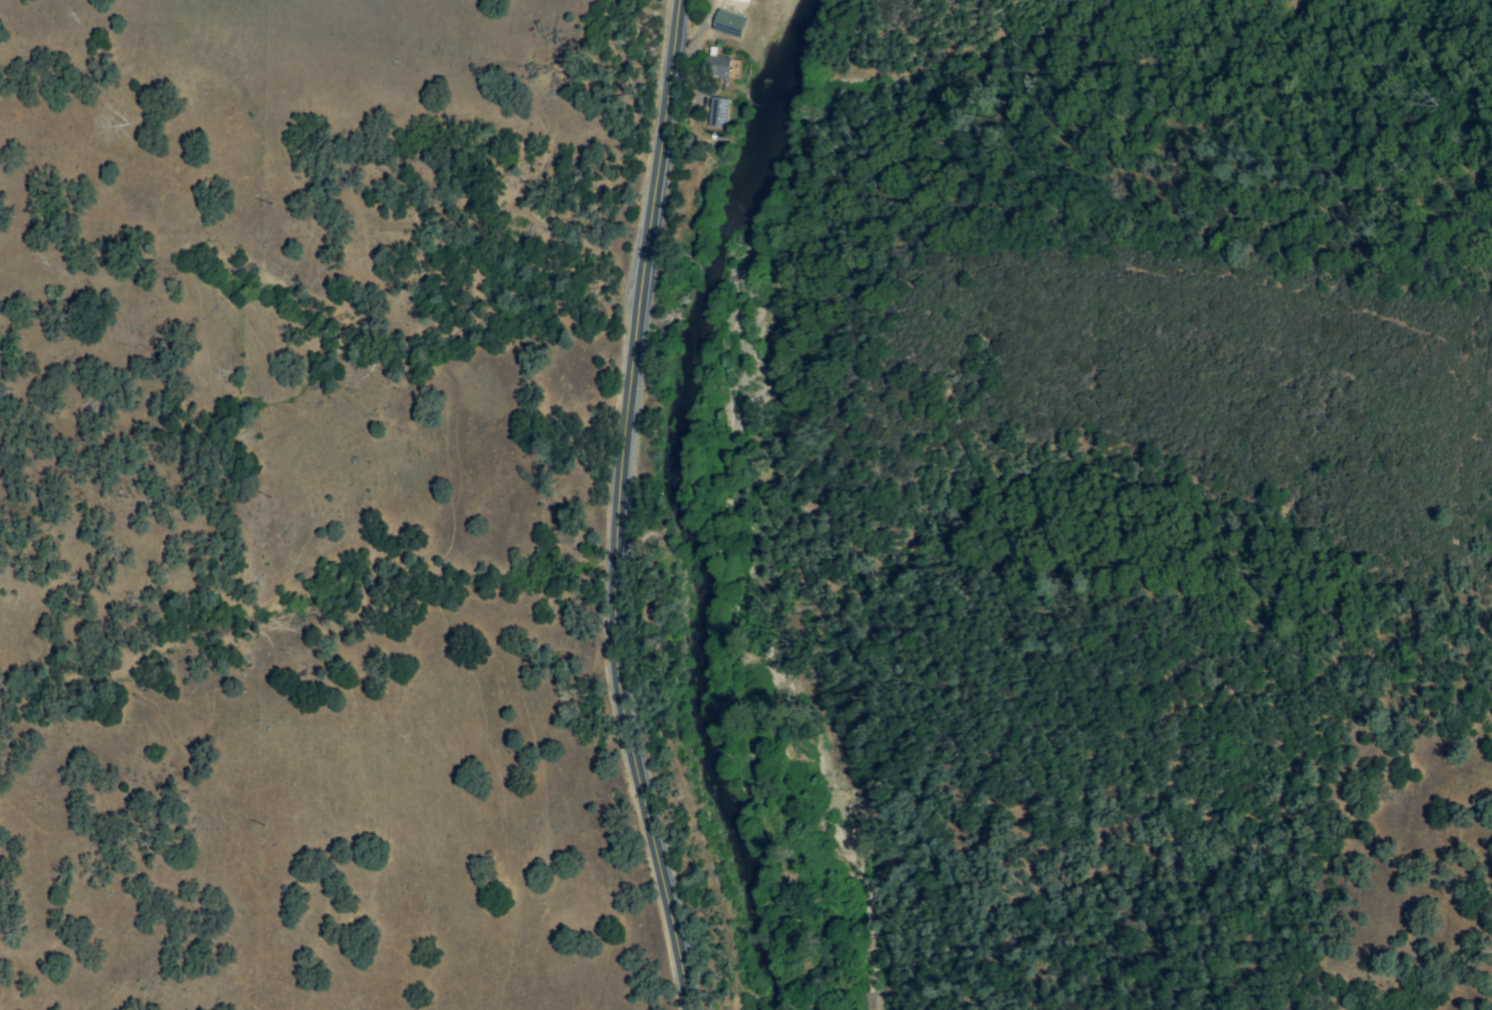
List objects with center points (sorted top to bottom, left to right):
building: (729, 23)
building: (717, 67)
building: (718, 112)
river: (686, 498)
road: (615, 507)

